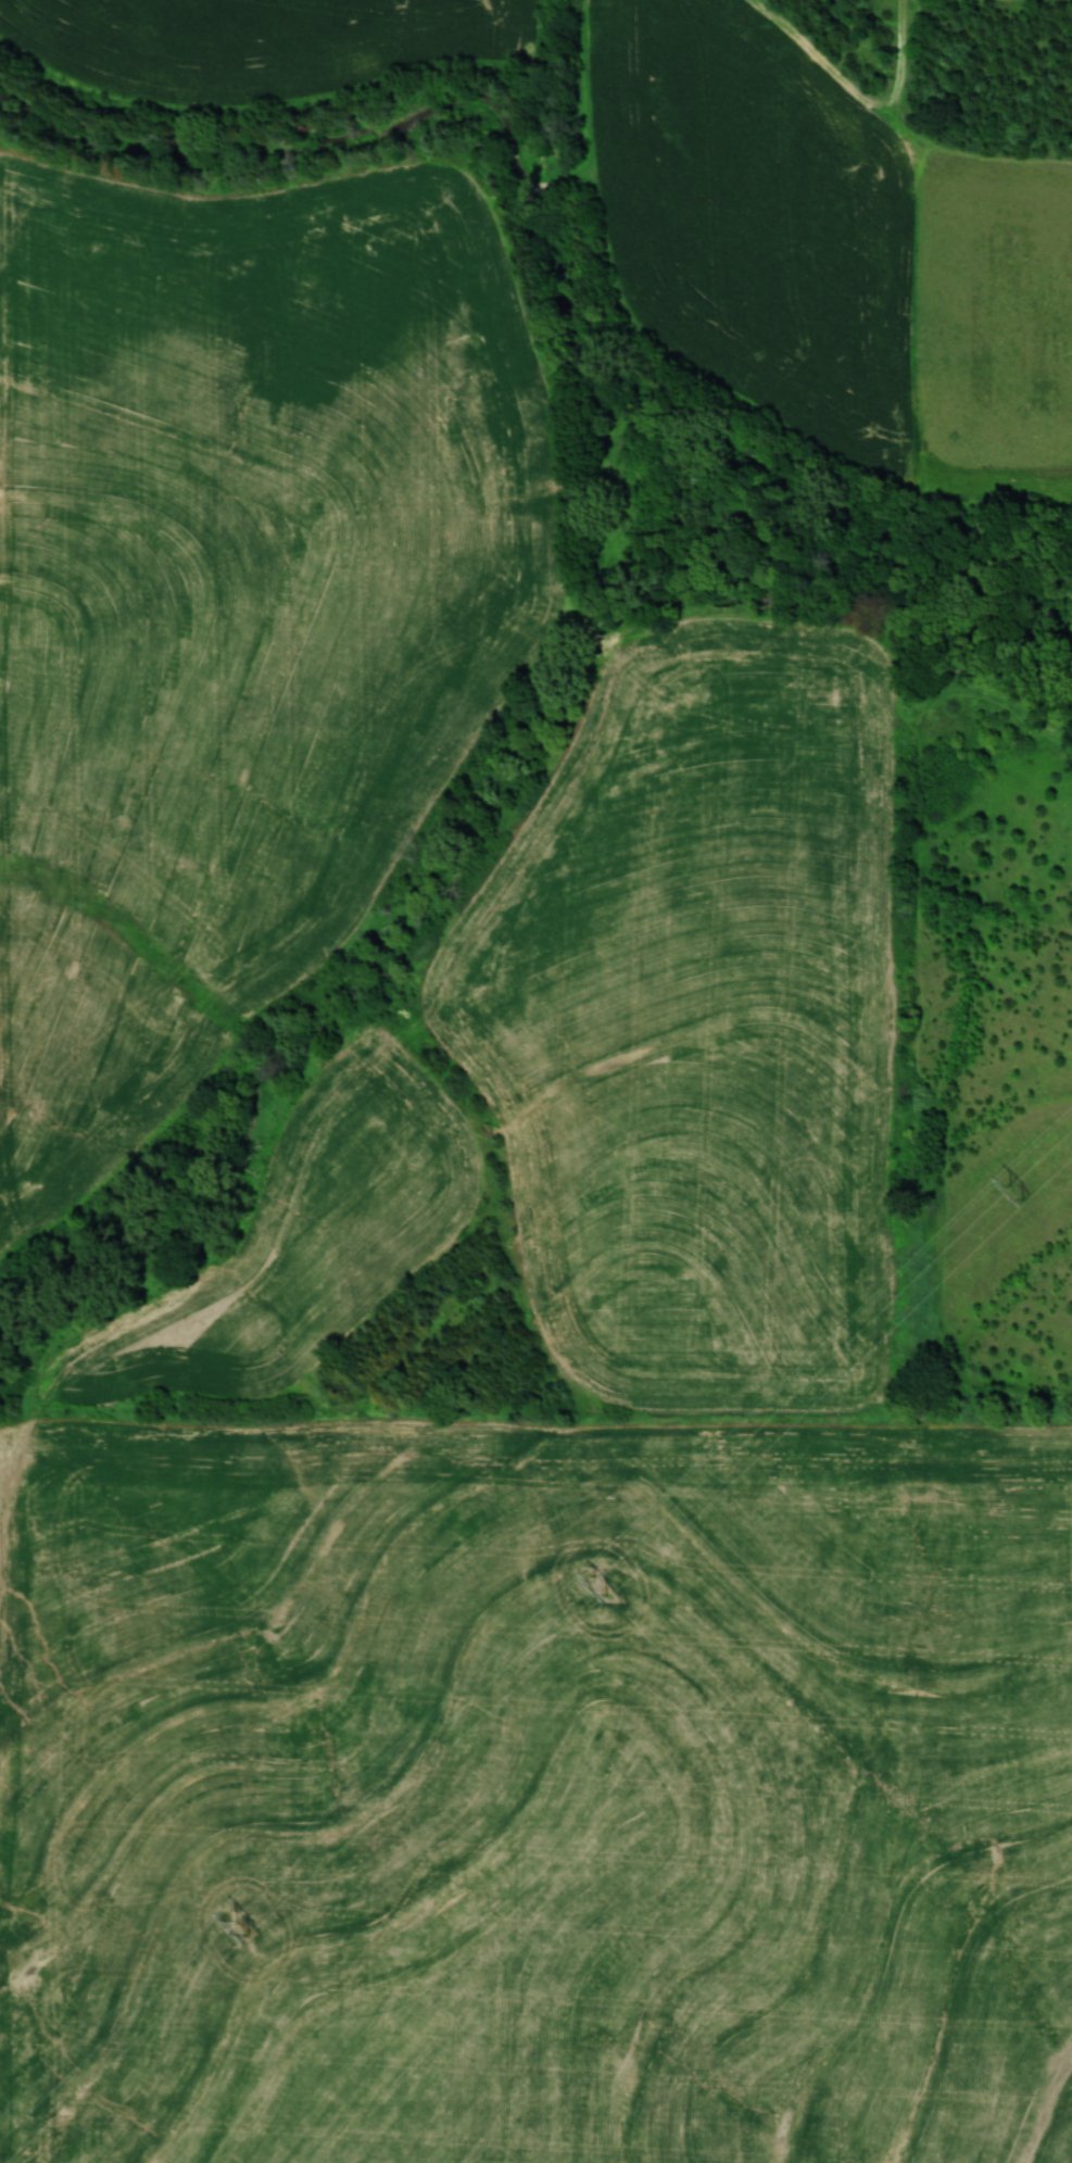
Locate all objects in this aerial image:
power tower: (1024, 1190)
power tower: (606, 1586)
crop: (534, 1791)
power tower: (249, 1929)

